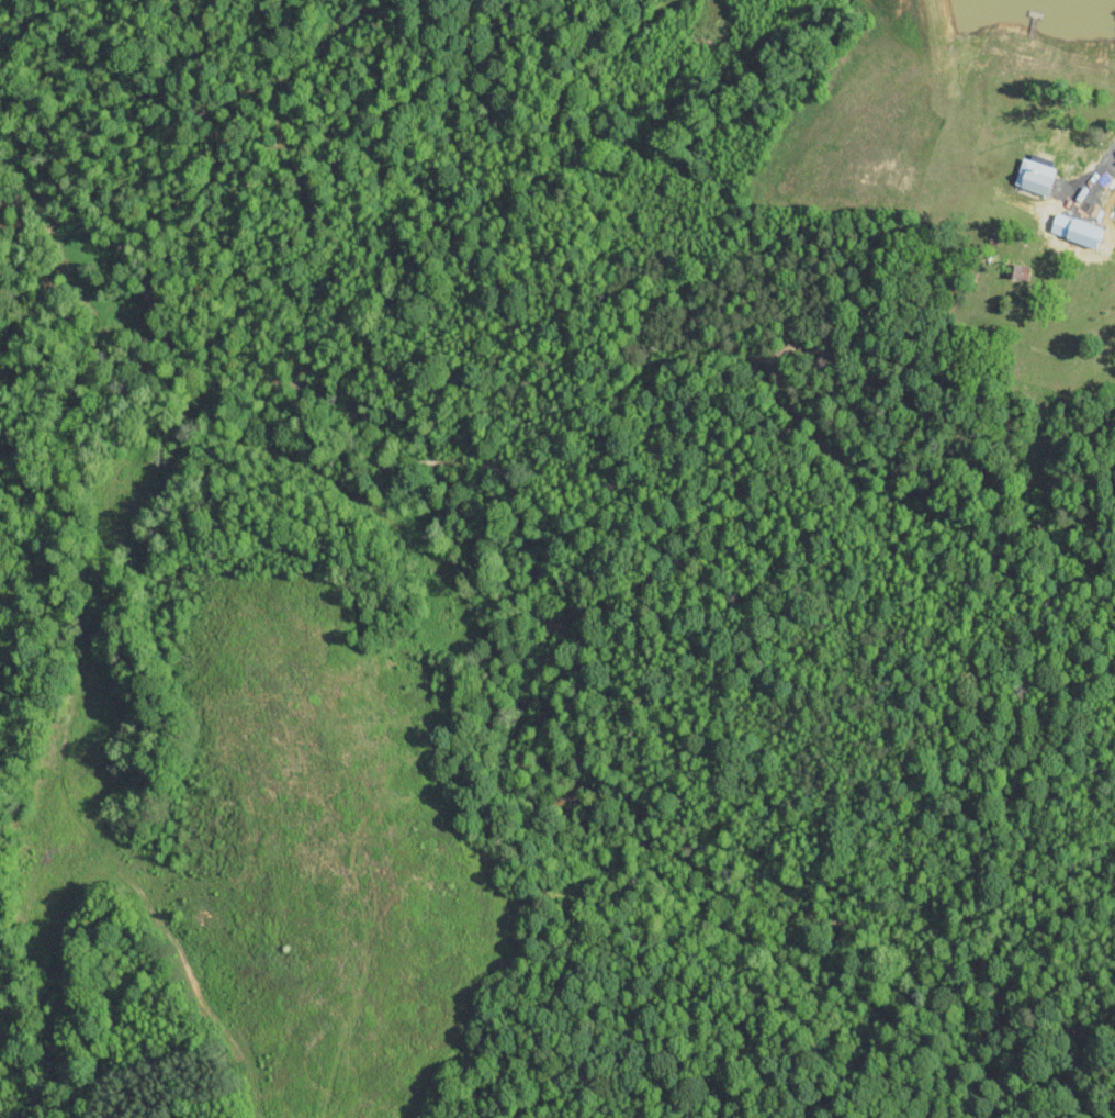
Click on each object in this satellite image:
road: (1113, 153)
building: (1030, 174)

